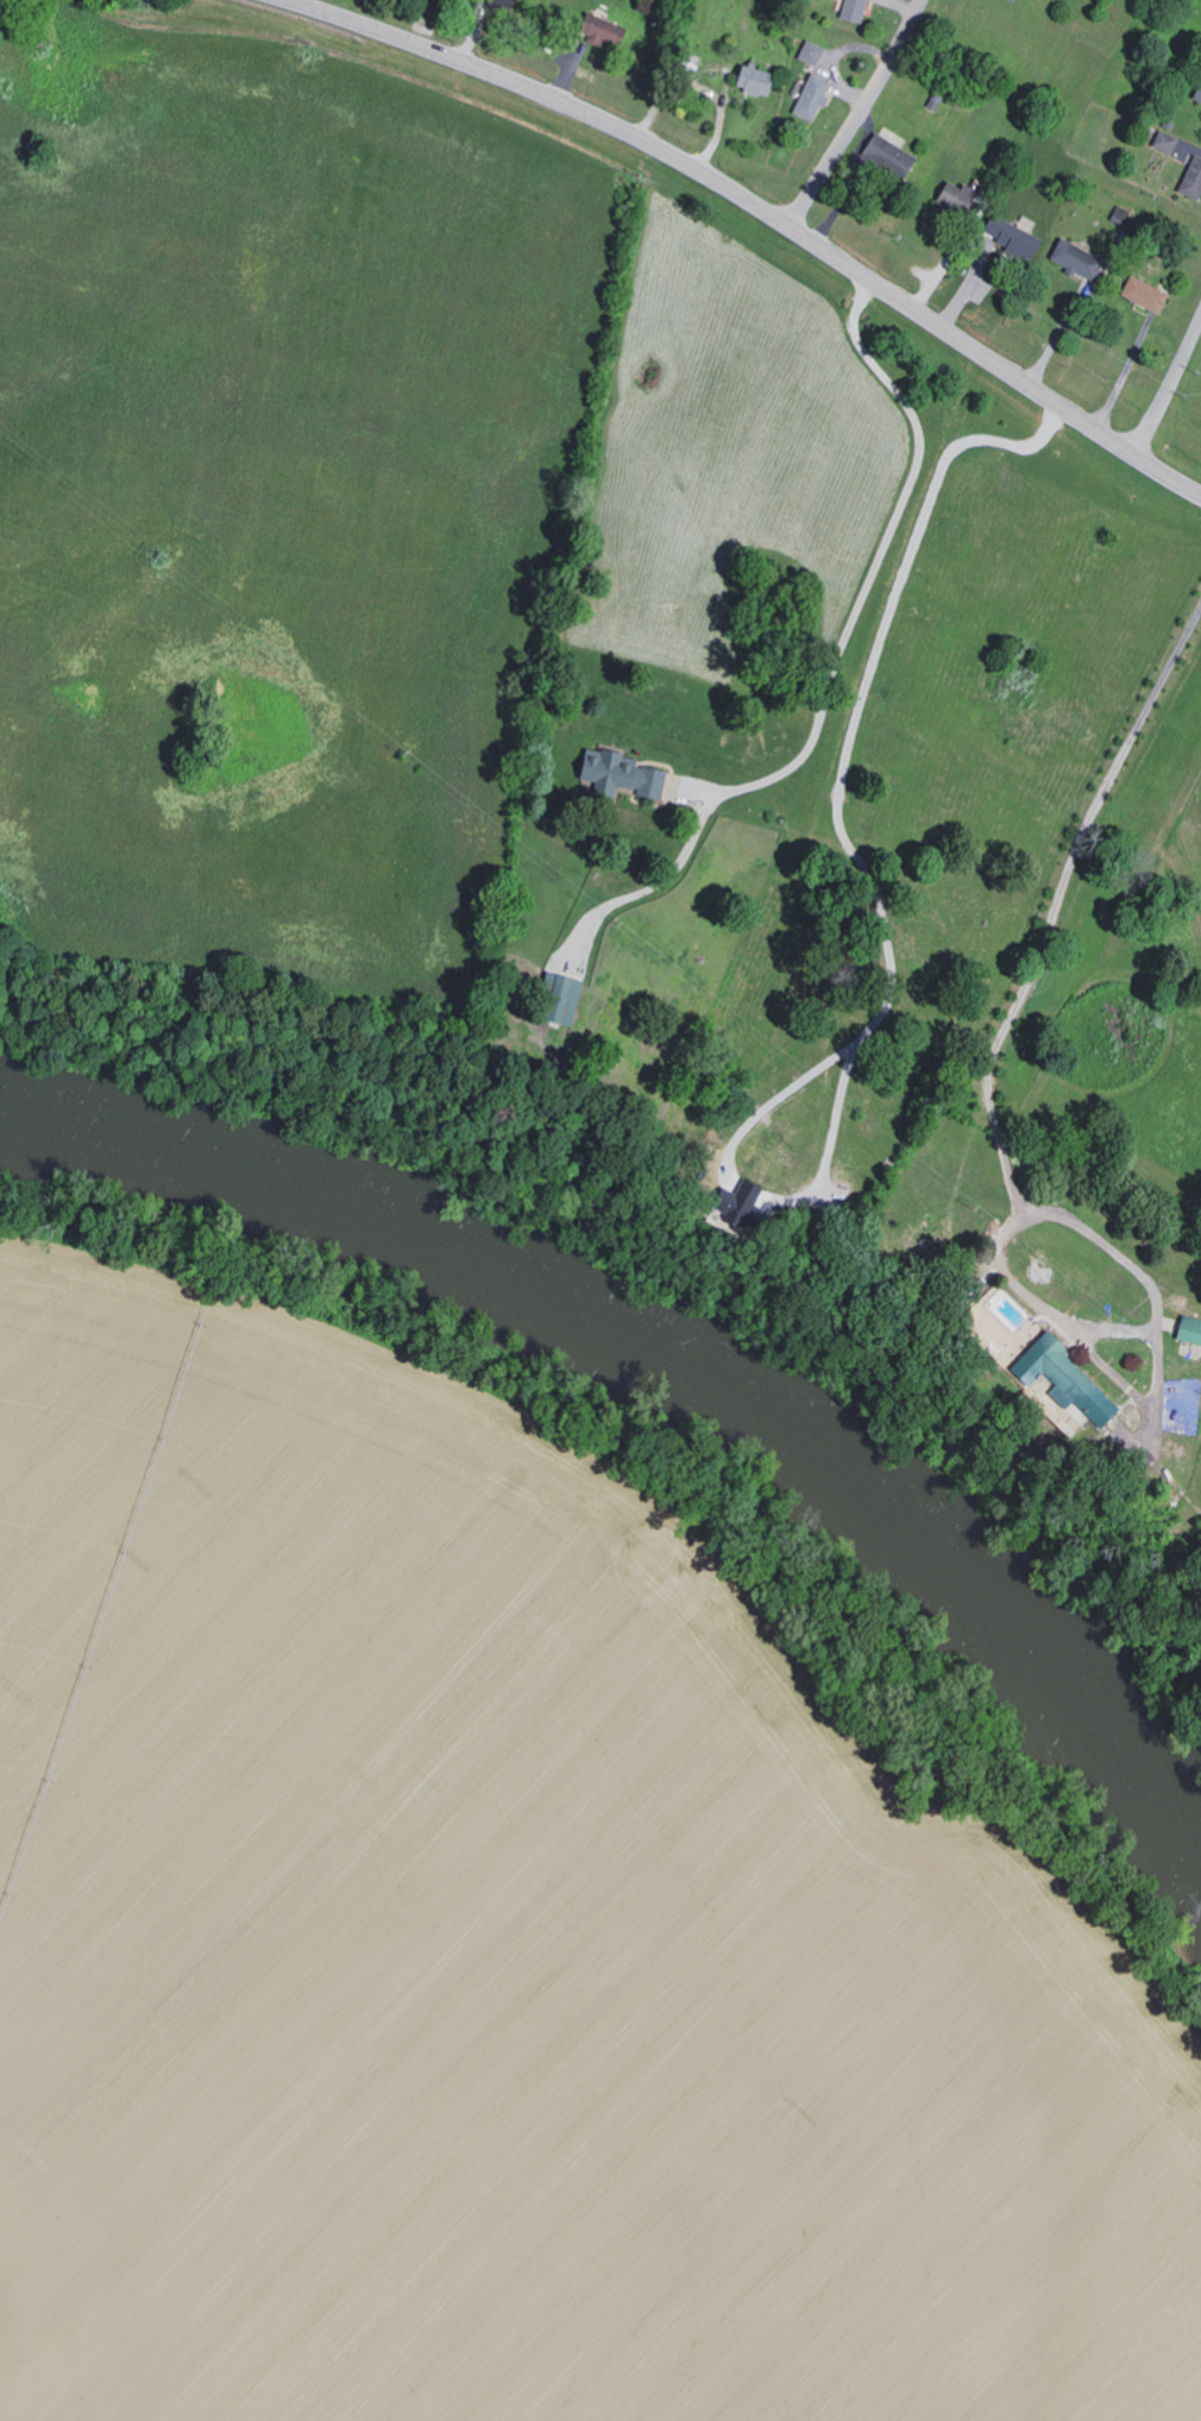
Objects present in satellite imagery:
building: (1010, 0)
building: (851, 10)
building: (597, 29)
building: (809, 52)
building: (687, 62)
building: (750, 80)
building: (1196, 94)
building: (809, 96)
road: (859, 114)
building: (1163, 142)
building: (886, 155)
building: (1191, 180)
road: (761, 209)
building: (1007, 235)
building: (1073, 258)
building: (1142, 294)
road: (1167, 384)
road: (832, 665)
road: (840, 778)
building: (555, 998)
road: (1013, 1011)
road: (773, 1099)
building: (730, 1202)
building: (1188, 1329)
river: (674, 1375)

